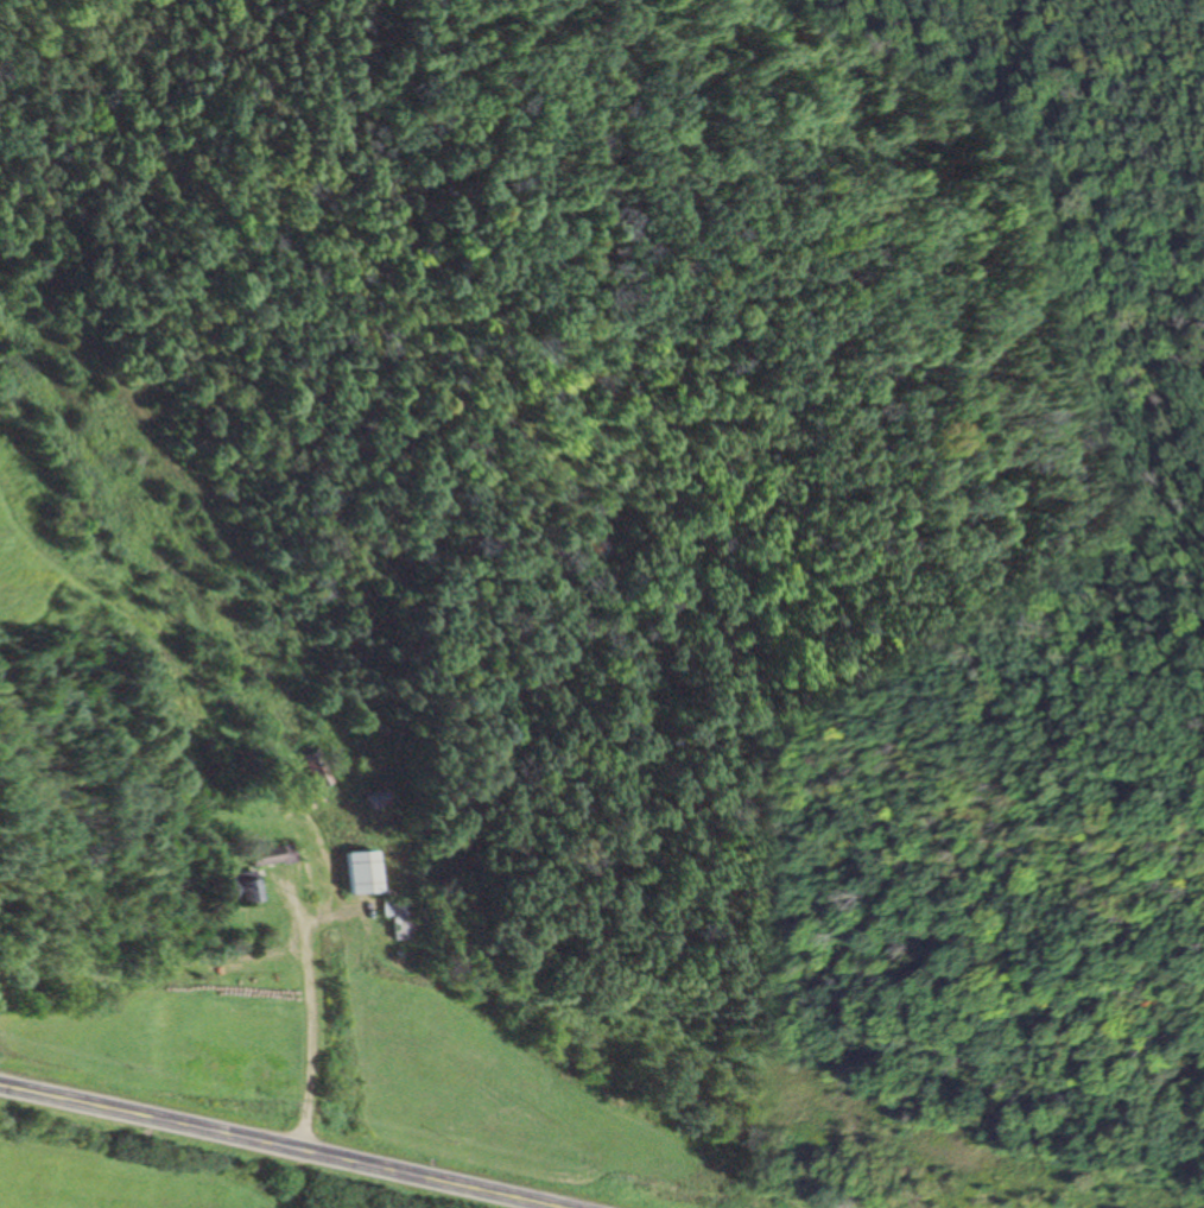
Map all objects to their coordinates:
building: (315, 767)
building: (264, 854)
building: (354, 871)
building: (232, 886)
building: (393, 916)
road: (267, 1146)

